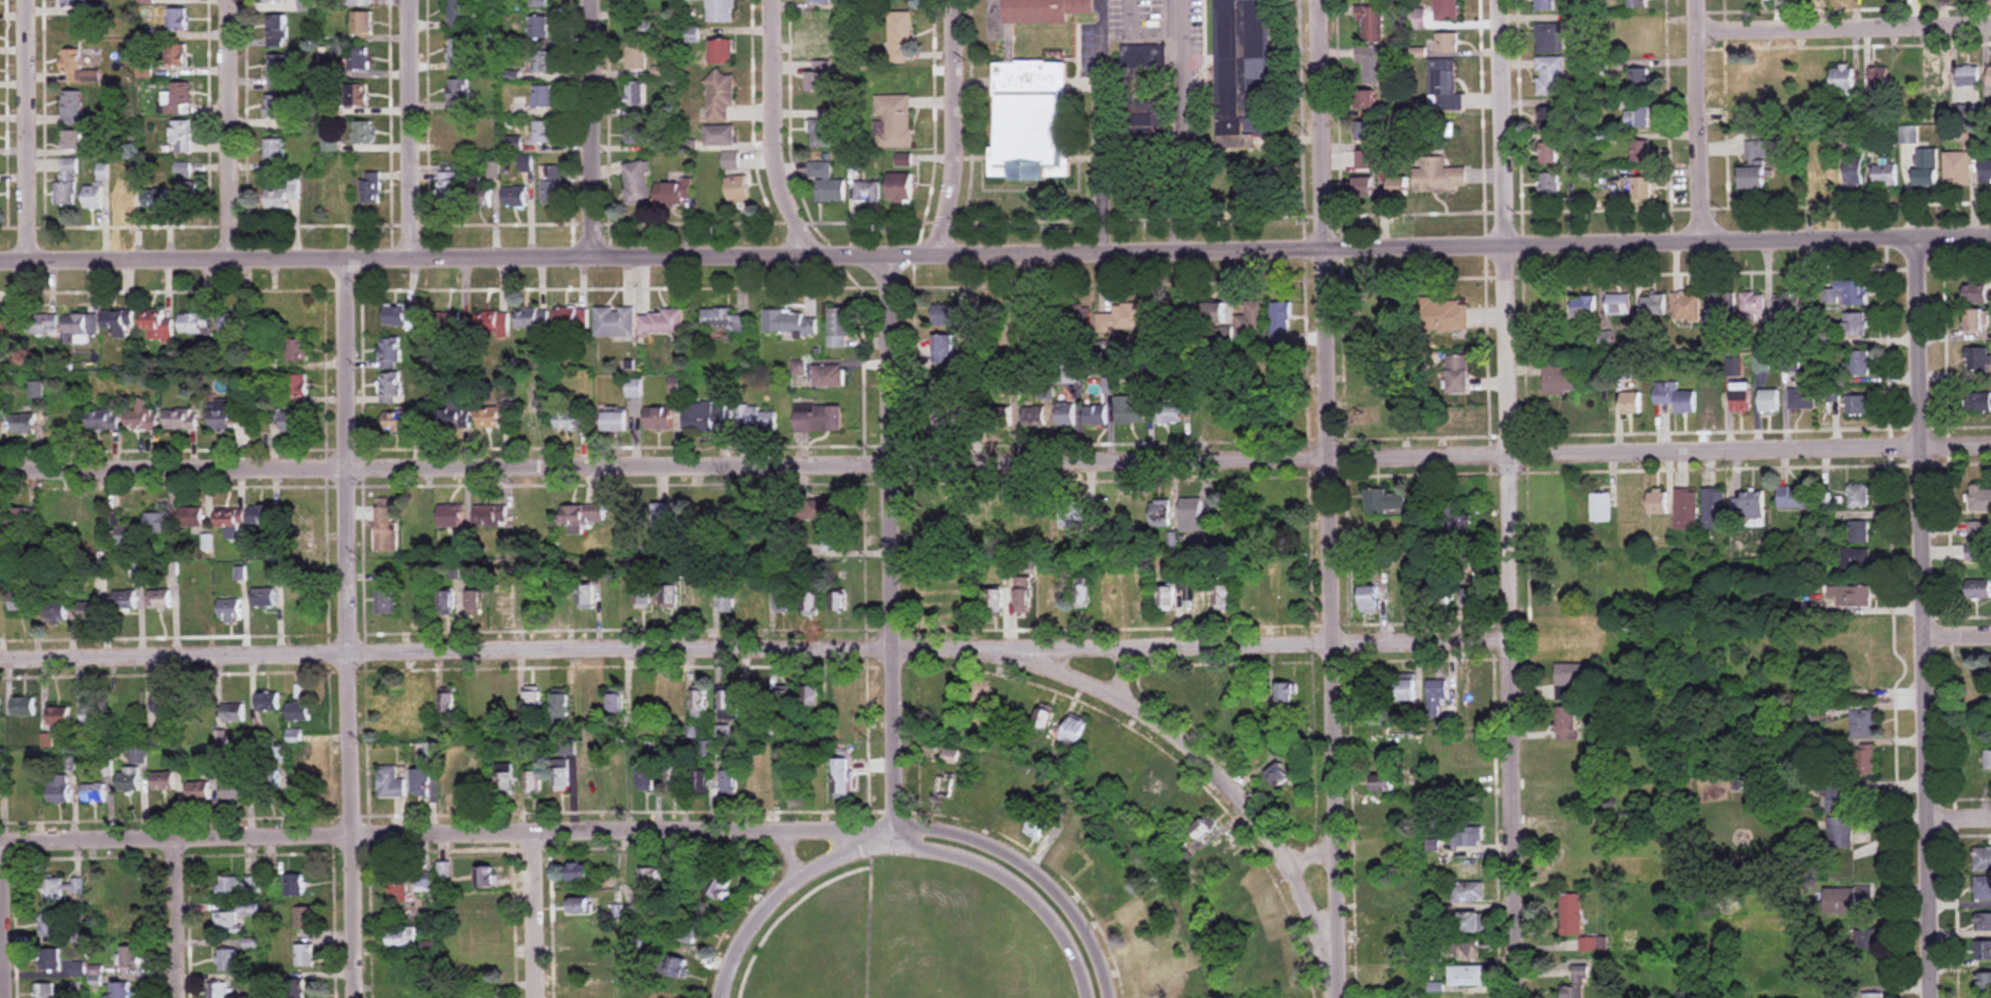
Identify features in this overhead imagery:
building: (275, 0)
building: (824, 1)
building: (71, 3)
building: (358, 3)
building: (538, 4)
building: (1638, 4)
building: (307, 5)
building: (1549, 5)
building: (1447, 10)
building: (721, 11)
building: (459, 14)
building: (176, 19)
building: (1371, 24)
building: (361, 27)
building: (538, 27)
road: (1178, 27)
building: (818, 28)
building: (640, 29)
road: (1848, 29)
building: (276, 31)
building: (899, 38)
building: (1549, 38)
road: (1101, 39)
building: (1637, 39)
building: (1447, 43)
building: (722, 51)
building: (177, 55)
building: (458, 55)
building: (636, 56)
building: (1144, 56)
building: (358, 59)
building: (543, 63)
building: (1372, 65)
building: (77, 67)
building: (1244, 68)
building: (276, 70)
building: (1990, 76)
building: (819, 77)
building: (1551, 77)
building: (1909, 77)
building: (1969, 77)
building: (1844, 78)
building: (1940, 78)
building: (1641, 79)
building: (1816, 79)
building: (1766, 80)
building: (1881, 83)
building: (1444, 87)
building: (458, 91)
building: (1029, 93)
building: (637, 95)
building: (357, 96)
building: (720, 96)
building: (543, 97)
building: (176, 100)
building: (1366, 101)
building: (274, 106)
building: (72, 108)
building: (1639, 118)
building: (1549, 119)
road: (1705, 119)
building: (893, 122)
building: (1143, 127)
road: (226, 129)
road: (407, 129)
road: (592, 129)
building: (823, 129)
road: (22, 130)
road: (955, 132)
building: (362, 133)
building: (544, 133)
building: (1367, 133)
building: (455, 135)
building: (640, 135)
building: (720, 135)
building: (1910, 135)
building: (180, 137)
road: (774, 138)
building: (72, 140)
building: (329, 145)
building: (1762, 149)
building: (1641, 153)
road: (1180, 154)
building: (1549, 154)
building: (273, 155)
building: (1370, 160)
building: (732, 161)
building: (345, 164)
building: (525, 164)
road: (1101, 167)
building: (1928, 168)
building: (1958, 168)
building: (182, 169)
building: (1986, 171)
building: (1886, 172)
building: (1855, 173)
building: (1825, 176)
building: (1439, 177)
building: (1754, 178)
building: (636, 183)
building: (827, 183)
building: (66, 184)
building: (551, 185)
building: (1549, 185)
building: (901, 187)
building: (370, 188)
building: (448, 188)
building: (1364, 188)
building: (1399, 188)
building: (1642, 188)
building: (737, 189)
building: (868, 192)
building: (188, 193)
building: (673, 193)
building: (478, 194)
building: (282, 195)
building: (93, 197)
building: (515, 197)
building: (333, 198)
building: (123, 199)
building: (154, 199)
road: (995, 258)
building: (1850, 292)
building: (1978, 293)
building: (1723, 302)
building: (1753, 303)
building: (1619, 304)
building: (1654, 304)
building: (1584, 307)
building: (1686, 307)
building: (1789, 307)
building: (1212, 311)
building: (289, 315)
building: (952, 315)
building: (399, 316)
building: (1442, 316)
building: (570, 317)
building: (1036, 317)
building: (531, 318)
building: (1076, 318)
building: (1122, 319)
building: (725, 320)
building: (1976, 320)
building: (9, 321)
building: (614, 321)
building: (118, 322)
building: (448, 322)
building: (492, 322)
building: (661, 322)
building: (789, 322)
building: (1248, 322)
building: (42, 323)
building: (194, 323)
building: (233, 323)
building: (1280, 324)
building: (1856, 324)
building: (80, 325)
building: (158, 326)
building: (838, 328)
building: (945, 348)
building: (296, 349)
building: (389, 353)
building: (1977, 359)
building: (1790, 361)
building: (1860, 362)
building: (1280, 365)
building: (1377, 365)
building: (1733, 366)
building: (1203, 367)
building: (1067, 373)
building: (1458, 374)
building: (828, 376)
building: (1558, 381)
building: (944, 384)
building: (389, 387)
building: (633, 388)
building: (292, 389)
building: (1377, 391)
building: (1012, 393)
building: (1277, 397)
building: (1675, 397)
building: (1742, 397)
building: (1802, 398)
building: (1770, 400)
building: (1714, 401)
building: (1978, 401)
building: (1630, 402)
building: (1859, 404)
building: (1212, 408)
building: (1172, 411)
building: (1130, 412)
building: (228, 413)
building: (454, 414)
building: (1066, 415)
building: (1096, 415)
building: (140, 416)
building: (491, 416)
building: (704, 416)
building: (998, 416)
building: (1033, 416)
building: (952, 417)
building: (658, 418)
building: (817, 418)
building: (65, 419)
building: (180, 419)
building: (755, 419)
building: (1456, 419)
building: (102, 420)
building: (1385, 420)
building: (401, 421)
building: (531, 421)
building: (568, 421)
building: (614, 421)
building: (287, 422)
building: (23, 423)
building: (0, 424)
road: (995, 460)
building: (1272, 494)
building: (1859, 496)
road: (1507, 498)
building: (1795, 498)
road: (1326, 499)
building: (1384, 500)
building: (1657, 502)
building: (1600, 507)
building: (1035, 509)
building: (1685, 509)
building: (1714, 509)
building: (1749, 509)
building: (818, 510)
building: (1122, 512)
building: (1160, 513)
building: (54, 514)
building: (1191, 514)
building: (417, 515)
building: (450, 515)
building: (491, 515)
building: (532, 515)
building: (1990, 515)
building: (191, 516)
building: (579, 516)
building: (1076, 516)
building: (18, 517)
building: (667, 518)
building: (88, 519)
building: (712, 519)
building: (260, 520)
building: (303, 521)
building: (156, 522)
building: (230, 522)
building: (1459, 523)
building: (385, 528)
building: (1377, 529)
building: (1859, 532)
building: (123, 533)
building: (833, 538)
road: (897, 547)
building: (1975, 552)
building: (1856, 559)
building: (1978, 589)
building: (300, 593)
building: (385, 593)
building: (1023, 595)
building: (1138, 595)
building: (1405, 595)
building: (1851, 595)
building: (1083, 596)
building: (1438, 596)
building: (1472, 596)
building: (558, 597)
building: (586, 597)
building: (614, 597)
building: (643, 597)
building: (670, 597)
building: (1195, 597)
building: (264, 598)
building: (752, 598)
building: (1222, 598)
building: (1370, 598)
building: (124, 599)
building: (159, 599)
building: (417, 599)
building: (1167, 599)
building: (838, 600)
building: (995, 600)
building: (1053, 600)
building: (1253, 600)
building: (502, 601)
building: (529, 601)
building: (727, 601)
building: (782, 601)
building: (21, 602)
building: (474, 602)
building: (446, 603)
building: (809, 603)
building: (194, 607)
building: (938, 607)
building: (90, 610)
building: (229, 610)
building: (55, 611)
road: (1920, 617)
road: (356, 627)
road: (1956, 637)
road: (754, 654)
road: (1121, 672)
building: (1572, 679)
building: (1979, 683)
building: (1407, 690)
building: (1288, 692)
building: (811, 695)
building: (839, 696)
building: (753, 698)
building: (1436, 698)
building: (781, 699)
building: (1202, 699)
building: (1469, 699)
building: (420, 701)
building: (980, 701)
building: (267, 702)
building: (394, 702)
building: (448, 702)
building: (615, 702)
building: (643, 702)
building: (671, 703)
building: (727, 703)
building: (1375, 703)
building: (162, 704)
building: (533, 704)
building: (699, 704)
building: (23, 706)
building: (589, 707)
building: (1013, 707)
building: (560, 709)
building: (233, 712)
building: (298, 712)
building: (94, 714)
building: (198, 714)
building: (58, 716)
building: (1044, 718)
building: (1566, 723)
building: (1863, 723)
building: (1074, 729)
building: (1237, 730)
building: (153, 738)
building: (1104, 744)
building: (706, 748)
building: (1464, 751)
building: (1380, 753)
building: (950, 756)
building: (1865, 759)
building: (1987, 760)
building: (1568, 762)
building: (1126, 769)
building: (1280, 774)
building: (561, 775)
building: (842, 776)
building: (647, 777)
building: (674, 777)
road: (1218, 777)
building: (619, 778)
building: (128, 779)
building: (1466, 779)
building: (163, 780)
building: (506, 780)
building: (702, 780)
building: (785, 780)
building: (1157, 780)
building: (533, 781)
building: (267, 782)
building: (419, 782)
building: (730, 782)
building: (758, 782)
building: (389, 783)
building: (478, 783)
building: (1383, 783)
building: (451, 784)
building: (23, 786)
building: (944, 786)
building: (300, 788)
building: (57, 789)
building: (198, 790)
building: (234, 790)
building: (94, 793)
building: (1839, 795)
building: (1571, 799)
building: (1182, 803)
building: (1384, 811)
road: (1957, 817)
building: (1038, 826)
building: (1203, 828)
road: (451, 832)
building: (1839, 832)
building: (1571, 834)
building: (1467, 836)
building: (1386, 839)
building: (1225, 853)
road: (788, 856)
road: (1309, 857)
building: (1982, 860)
building: (1570, 865)
building: (1467, 867)
building: (1092, 869)
building: (579, 872)
building: (488, 876)
road: (1037, 877)
building: (651, 878)
building: (1242, 881)
building: (424, 885)
building: (293, 886)
building: (238, 887)
building: (397, 887)
road: (785, 887)
building: (52, 889)
building: (129, 889)
building: (721, 889)
road: (1019, 889)
building: (1982, 889)
building: (1468, 892)
building: (1114, 894)
building: (1389, 896)
building: (1848, 901)
building: (448, 902)
building: (580, 906)
building: (485, 907)
road: (548, 914)
building: (1571, 915)
building: (304, 917)
road: (9, 919)
road: (179, 919)
building: (1127, 920)
building: (227, 922)
building: (1471, 922)
building: (1983, 922)
building: (129, 924)
building: (48, 925)
building: (693, 932)
building: (580, 935)
building: (401, 937)
building: (1867, 937)
building: (1270, 940)
building: (1464, 951)
building: (1983, 951)
building: (129, 956)
building: (304, 956)
building: (49, 959)
building: (227, 959)
building: (578, 966)
building: (489, 967)
building: (679, 967)
building: (400, 972)
building: (1273, 973)
building: (1867, 974)
building: (1467, 976)
building: (1147, 982)
building: (1984, 982)
building: (1577, 984)
building: (293, 988)
building: (217, 989)
building: (43, 990)
building: (119, 990)
building: (484, 993)
building: (1873, 995)
building: (1469, 996)
building: (408, 997)
building: (670, 997)

